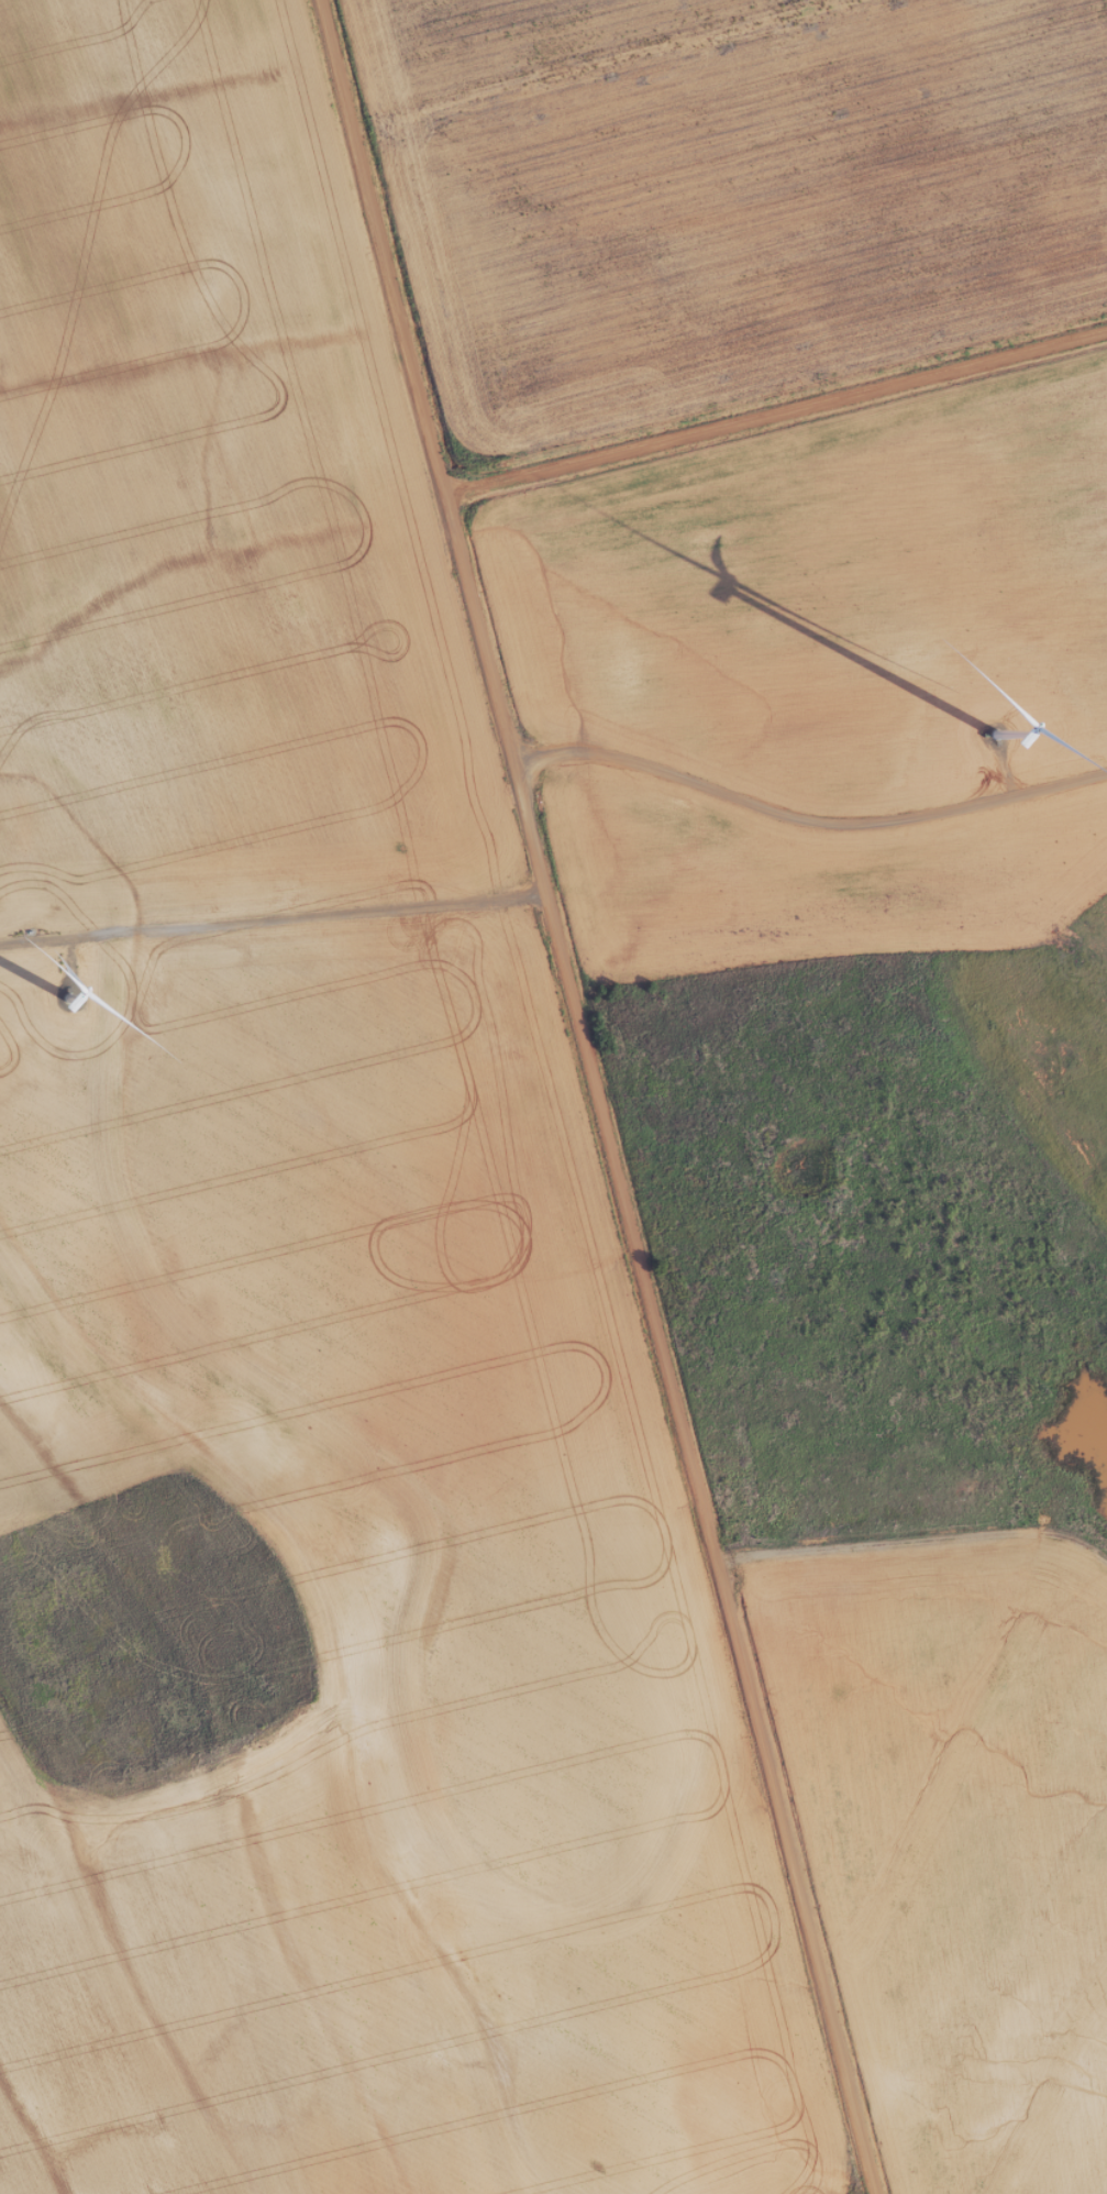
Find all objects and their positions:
road: (776, 410)
wind turbine: (994, 737)
wind turbine: (66, 1003)
road: (597, 1096)

